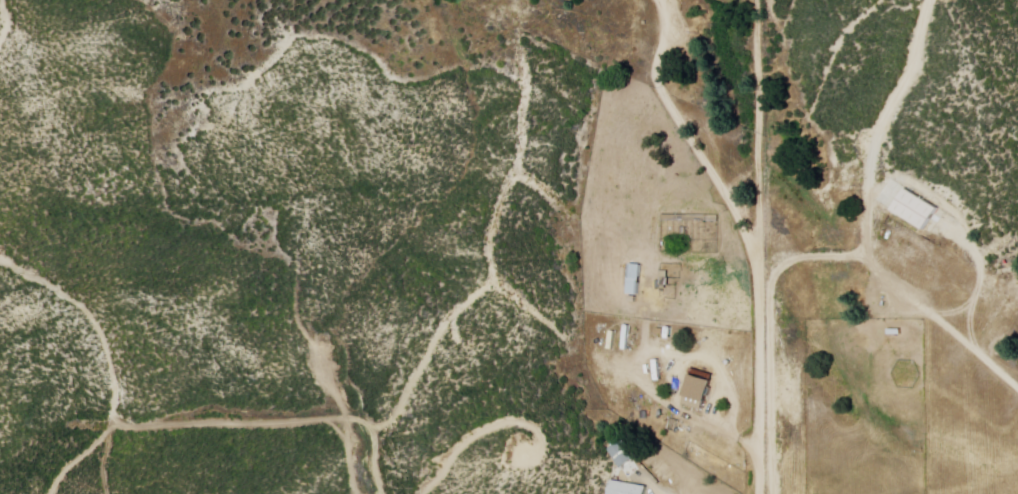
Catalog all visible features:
road: (757, 129)
building: (914, 209)
road: (744, 237)
road: (840, 256)
building: (633, 278)
building: (693, 401)
building: (620, 455)
building: (625, 488)

